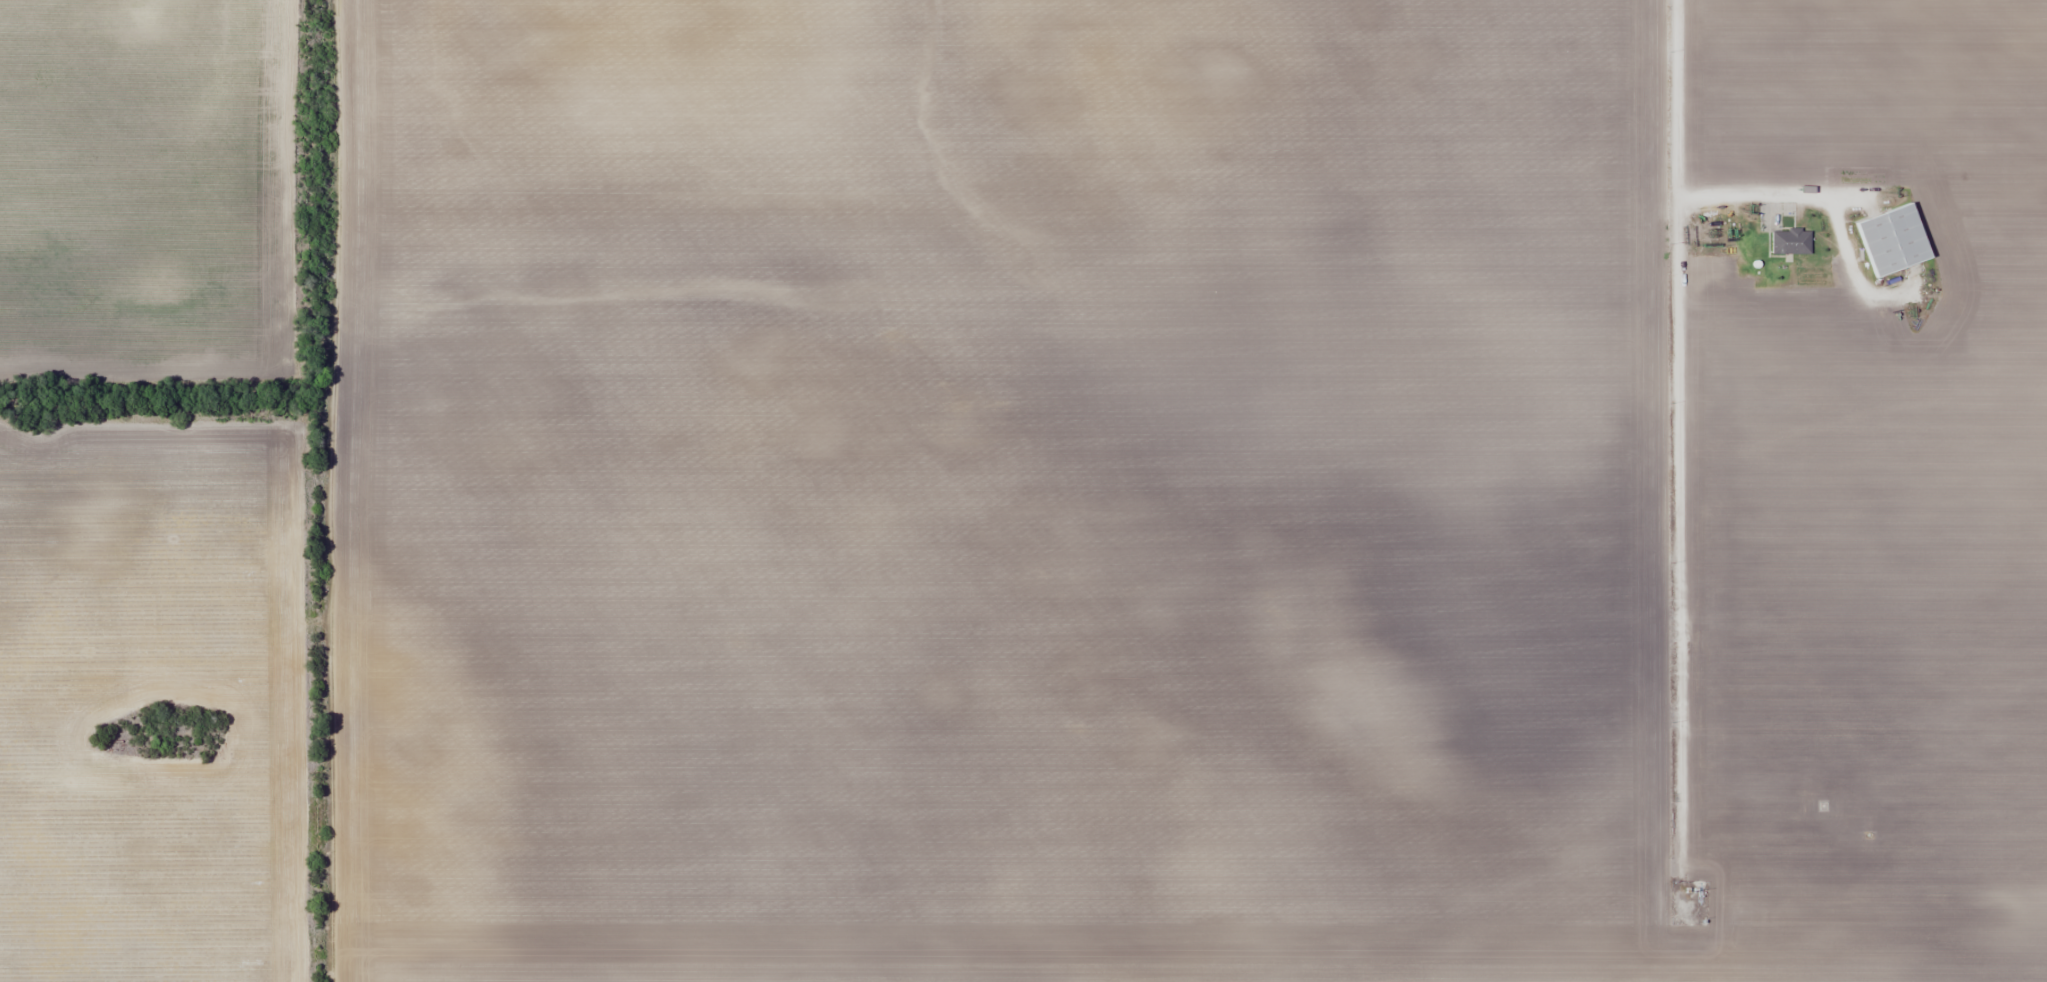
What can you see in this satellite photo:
road: (1733, 193)
building: (1893, 239)
building: (1790, 241)
road: (1678, 536)

